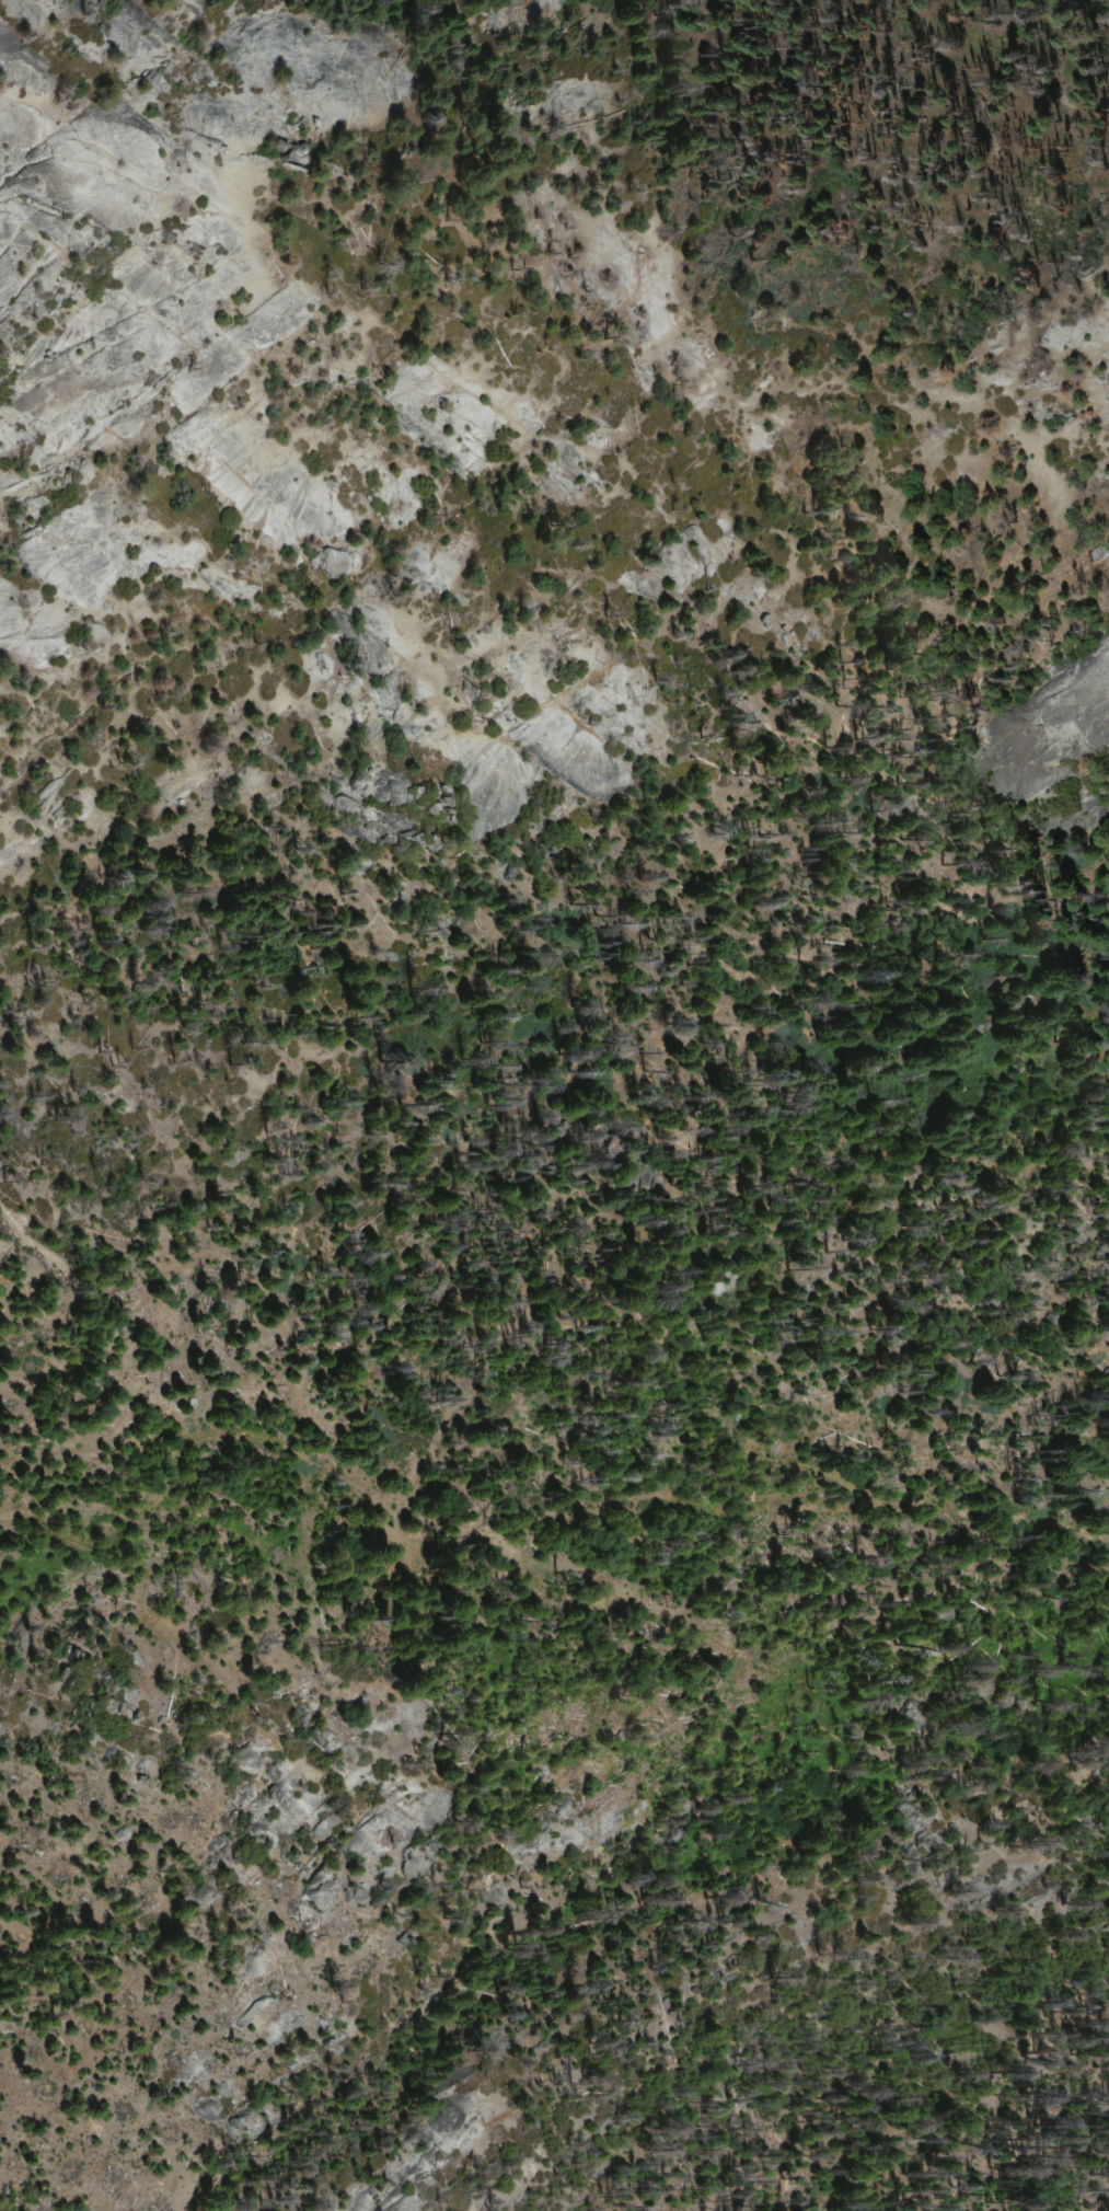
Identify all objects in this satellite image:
road: (524, 253)

